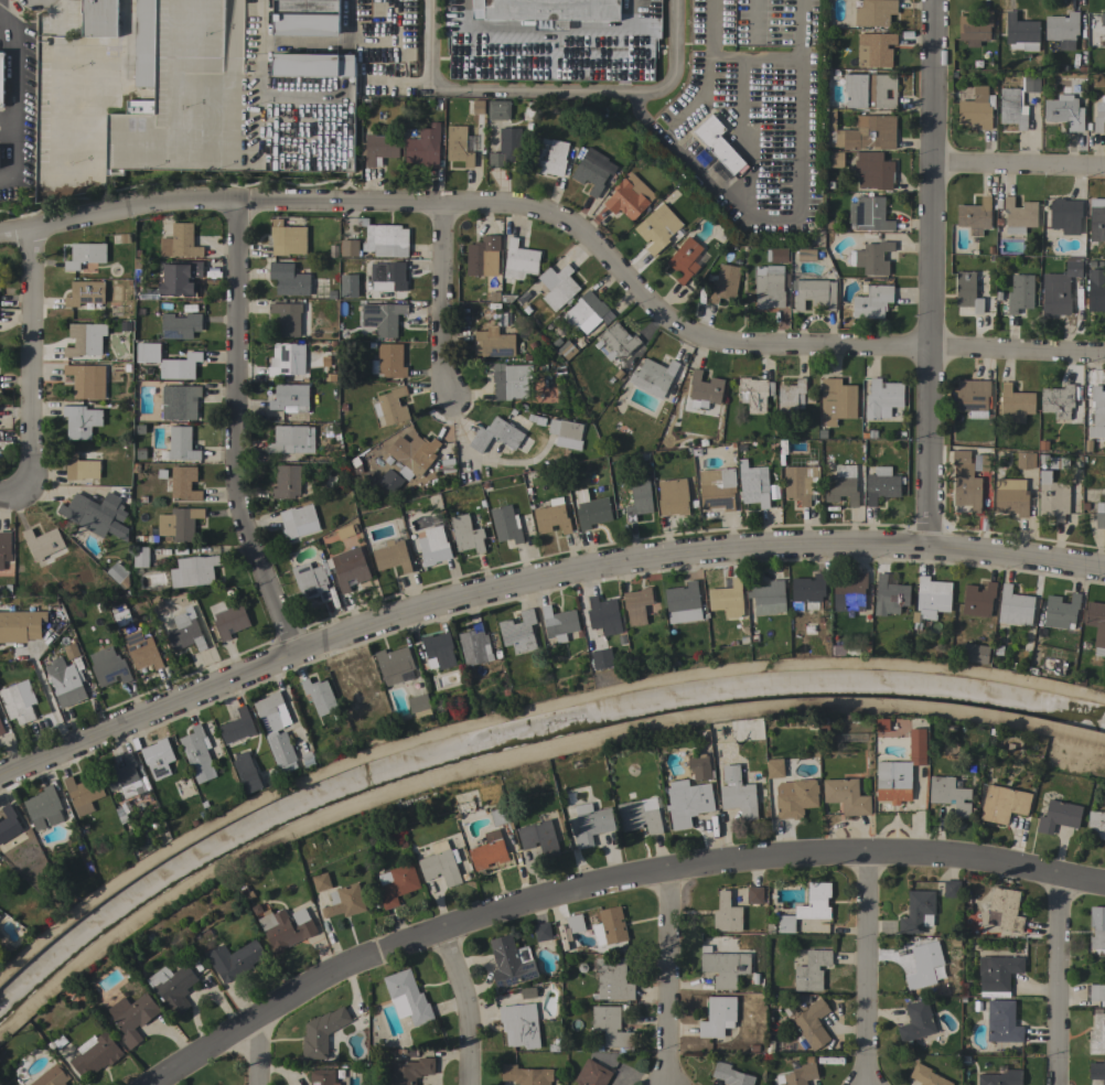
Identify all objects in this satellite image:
building: (547, 11)
building: (875, 12)
road: (2, 15)
building: (99, 18)
building: (305, 18)
building: (1103, 19)
building: (975, 29)
building: (1062, 30)
road: (10, 32)
building: (1021, 33)
road: (8, 43)
building: (144, 43)
road: (432, 43)
road: (393, 44)
building: (875, 50)
road: (755, 57)
road: (708, 63)
building: (313, 64)
road: (552, 64)
building: (1, 76)
road: (219, 87)
road: (533, 88)
building: (869, 90)
building: (1016, 103)
building: (227, 108)
building: (498, 109)
building: (976, 110)
building: (1064, 111)
road: (13, 116)
building: (1098, 117)
building: (861, 132)
road: (744, 133)
building: (460, 144)
building: (718, 144)
building: (423, 147)
building: (504, 147)
building: (378, 148)
road: (324, 157)
building: (551, 158)
building: (835, 160)
road: (1018, 166)
building: (592, 170)
building: (873, 170)
building: (629, 197)
road: (737, 203)
building: (869, 214)
building: (1019, 215)
building: (974, 216)
building: (1065, 216)
building: (1097, 223)
road: (568, 227)
building: (652, 233)
building: (287, 238)
building: (385, 239)
building: (180, 241)
building: (350, 247)
building: (85, 255)
building: (481, 255)
building: (777, 255)
building: (806, 255)
building: (871, 258)
building: (685, 259)
building: (519, 260)
road: (930, 275)
building: (387, 277)
building: (289, 279)
building: (179, 280)
building: (723, 281)
building: (136, 283)
building: (558, 287)
building: (769, 287)
building: (1059, 289)
building: (1095, 290)
building: (967, 291)
building: (814, 292)
building: (1020, 293)
building: (86, 294)
road: (441, 299)
building: (872, 302)
building: (584, 312)
building: (287, 318)
building: (387, 319)
building: (605, 320)
building: (180, 325)
building: (79, 340)
building: (618, 341)
building: (494, 342)
building: (566, 350)
building: (286, 358)
building: (388, 361)
building: (168, 362)
road: (26, 363)
building: (653, 377)
building: (86, 380)
building: (511, 382)
building: (704, 391)
building: (755, 394)
building: (972, 395)
building: (290, 398)
building: (838, 398)
building: (882, 398)
building: (791, 399)
building: (1056, 400)
building: (179, 401)
building: (1016, 404)
building: (390, 406)
building: (1097, 411)
building: (81, 421)
road: (232, 430)
building: (566, 431)
building: (495, 436)
building: (292, 439)
building: (181, 444)
building: (411, 454)
building: (1023, 460)
building: (981, 462)
building: (1058, 462)
building: (448, 464)
building: (79, 466)
building: (390, 481)
building: (288, 482)
building: (183, 483)
building: (801, 483)
building: (752, 484)
building: (882, 484)
building: (965, 484)
building: (841, 485)
building: (717, 488)
building: (1010, 496)
building: (673, 497)
building: (1052, 497)
road: (12, 498)
building: (639, 498)
building: (592, 513)
building: (1101, 513)
building: (95, 514)
building: (551, 518)
building: (296, 519)
building: (179, 524)
building: (506, 524)
building: (346, 530)
building: (466, 534)
building: (44, 545)
building: (436, 546)
building: (4, 548)
building: (391, 556)
building: (140, 557)
building: (348, 568)
building: (193, 571)
building: (118, 574)
road: (535, 578)
building: (310, 581)
building: (808, 590)
building: (849, 592)
building: (933, 592)
building: (766, 597)
building: (889, 597)
building: (727, 599)
building: (978, 600)
building: (683, 603)
building: (636, 605)
building: (1015, 606)
building: (1061, 612)
building: (120, 614)
building: (604, 615)
building: (227, 619)
building: (559, 623)
building: (1096, 625)
building: (20, 626)
building: (184, 632)
building: (518, 632)
building: (474, 646)
building: (71, 651)
building: (141, 651)
building: (438, 651)
building: (974, 653)
building: (600, 658)
building: (395, 666)
building: (108, 667)
building: (64, 683)
building: (319, 696)
road: (49, 702)
building: (419, 703)
building: (15, 705)
building: (883, 726)
building: (237, 727)
building: (1, 729)
building: (271, 732)
building: (197, 754)
building: (158, 758)
building: (699, 766)
building: (774, 769)
building: (900, 771)
building: (247, 772)
building: (124, 776)
building: (83, 793)
building: (738, 794)
building: (950, 795)
building: (846, 796)
building: (795, 797)
building: (688, 803)
building: (1002, 804)
building: (43, 807)
building: (500, 816)
building: (1059, 816)
building: (639, 817)
building: (8, 823)
building: (591, 824)
building: (1096, 825)
building: (539, 838)
building: (489, 850)
building: (440, 863)
building: (321, 882)
building: (396, 884)
road: (614, 885)
building: (952, 889)
building: (754, 895)
building: (344, 901)
building: (808, 907)
building: (1005, 910)
building: (918, 912)
building: (727, 913)
building: (1, 919)
building: (575, 923)
building: (611, 925)
building: (286, 927)
building: (1097, 930)
building: (543, 932)
building: (126, 952)
building: (234, 960)
building: (511, 963)
building: (923, 965)
building: (725, 967)
building: (812, 970)
road: (862, 971)
building: (997, 975)
road: (669, 978)
building: (612, 979)
road: (1052, 984)
building: (174, 987)
building: (528, 992)
building: (1095, 993)
building: (407, 998)
road: (461, 1007)
building: (132, 1017)
building: (718, 1017)
building: (1001, 1021)
building: (916, 1022)
building: (812, 1023)
building: (519, 1024)
building: (611, 1028)
building: (322, 1032)
building: (1097, 1032)
road: (262, 1051)
building: (95, 1053)
building: (408, 1071)
building: (1097, 1071)
building: (591, 1074)
building: (526, 1075)
building: (730, 1075)
building: (797, 1075)
building: (52, 1076)
building: (926, 1076)
building: (322, 1077)
building: (1000, 1078)

